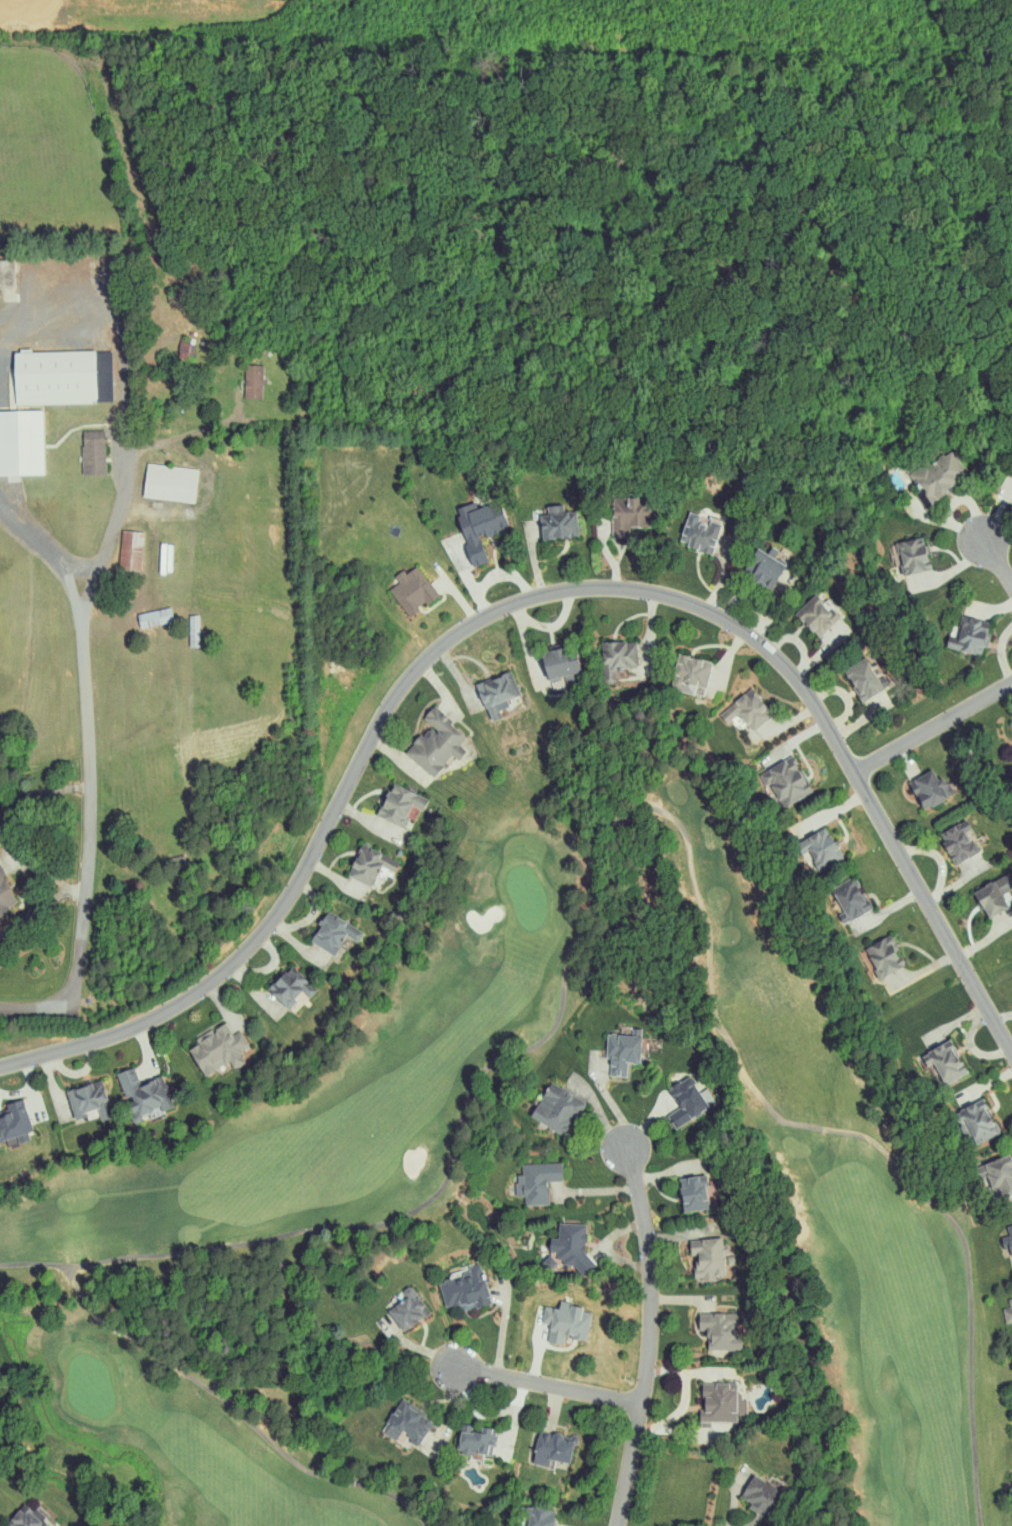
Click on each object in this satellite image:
road: (65, 309)
building: (40, 371)
building: (241, 375)
road: (199, 430)
building: (16, 436)
building: (80, 447)
building: (929, 469)
building: (155, 476)
building: (1006, 494)
building: (615, 509)
building: (543, 519)
road: (137, 523)
building: (461, 524)
building: (685, 528)
building: (117, 545)
road: (44, 547)
building: (897, 550)
road: (1000, 555)
building: (751, 563)
road: (581, 580)
building: (398, 584)
building: (804, 610)
building: (954, 630)
building: (601, 652)
building: (540, 659)
building: (674, 667)
building: (845, 675)
building: (481, 688)
building: (731, 705)
road: (934, 720)
building: (1005, 723)
building: (419, 737)
road: (859, 768)
building: (771, 775)
building: (913, 783)
building: (382, 799)
road: (2, 834)
building: (943, 837)
building: (802, 842)
building: (354, 859)
road: (307, 869)
building: (1, 894)
building: (834, 894)
building: (974, 895)
road: (33, 910)
building: (316, 926)
building: (868, 951)
building: (273, 981)
building: (203, 1044)
building: (605, 1048)
building: (929, 1056)
building: (125, 1088)
building: (70, 1093)
building: (669, 1097)
road: (610, 1100)
building: (541, 1102)
park: (344, 1108)
road: (600, 1112)
building: (6, 1115)
building: (962, 1116)
road: (648, 1121)
road: (669, 1171)
building: (988, 1172)
building: (531, 1178)
building: (695, 1189)
road: (596, 1190)
road: (681, 1234)
building: (1007, 1238)
building: (569, 1245)
road: (604, 1249)
building: (709, 1257)
road: (648, 1275)
building: (465, 1289)
road: (682, 1299)
building: (408, 1309)
building: (1008, 1313)
building: (570, 1321)
road: (503, 1324)
building: (719, 1330)
road: (416, 1348)
road: (543, 1357)
road: (596, 1361)
road: (688, 1373)
road: (547, 1384)
building: (719, 1402)
road: (552, 1407)
road: (681, 1407)
road: (476, 1410)
road: (450, 1415)
road: (514, 1419)
building: (407, 1422)
road: (675, 1432)
building: (476, 1438)
building: (551, 1449)
road: (629, 1463)
building: (761, 1494)
road: (735, 1495)
building: (535, 1517)
building: (30, 1518)

